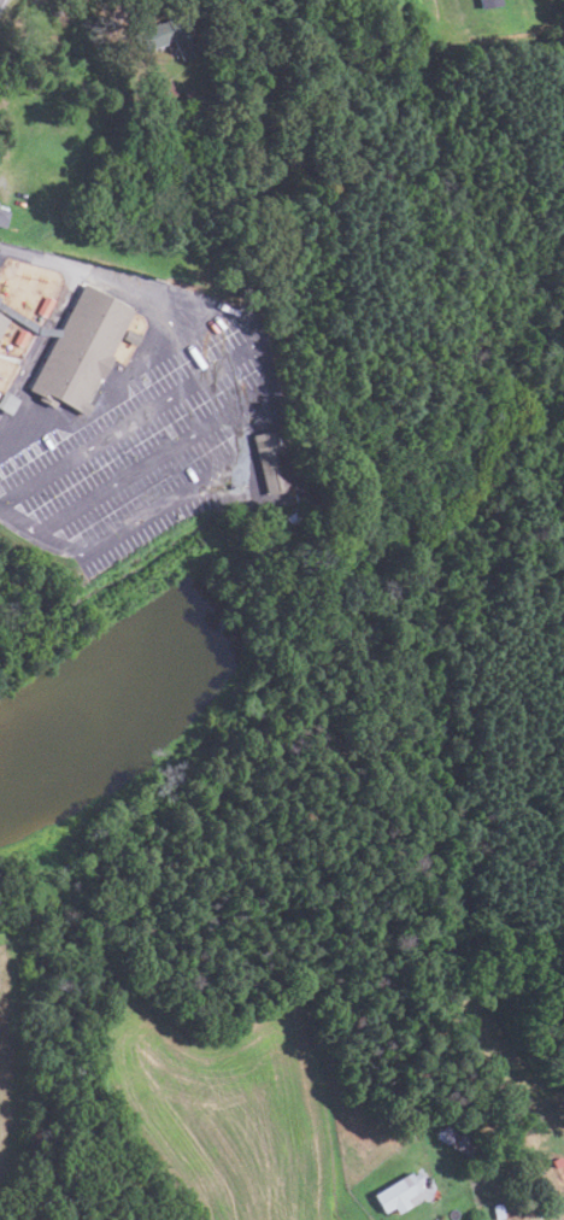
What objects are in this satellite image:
building: (489, 2)
building: (169, 35)
building: (163, 89)
building: (4, 217)
building: (46, 306)
building: (2, 312)
building: (2, 323)
building: (20, 338)
building: (131, 338)
building: (81, 350)
road: (271, 398)
building: (7, 401)
road: (129, 423)
building: (270, 462)
building: (301, 495)
building: (292, 518)
building: (453, 1139)
building: (558, 1161)
building: (398, 1192)
building: (499, 1210)

